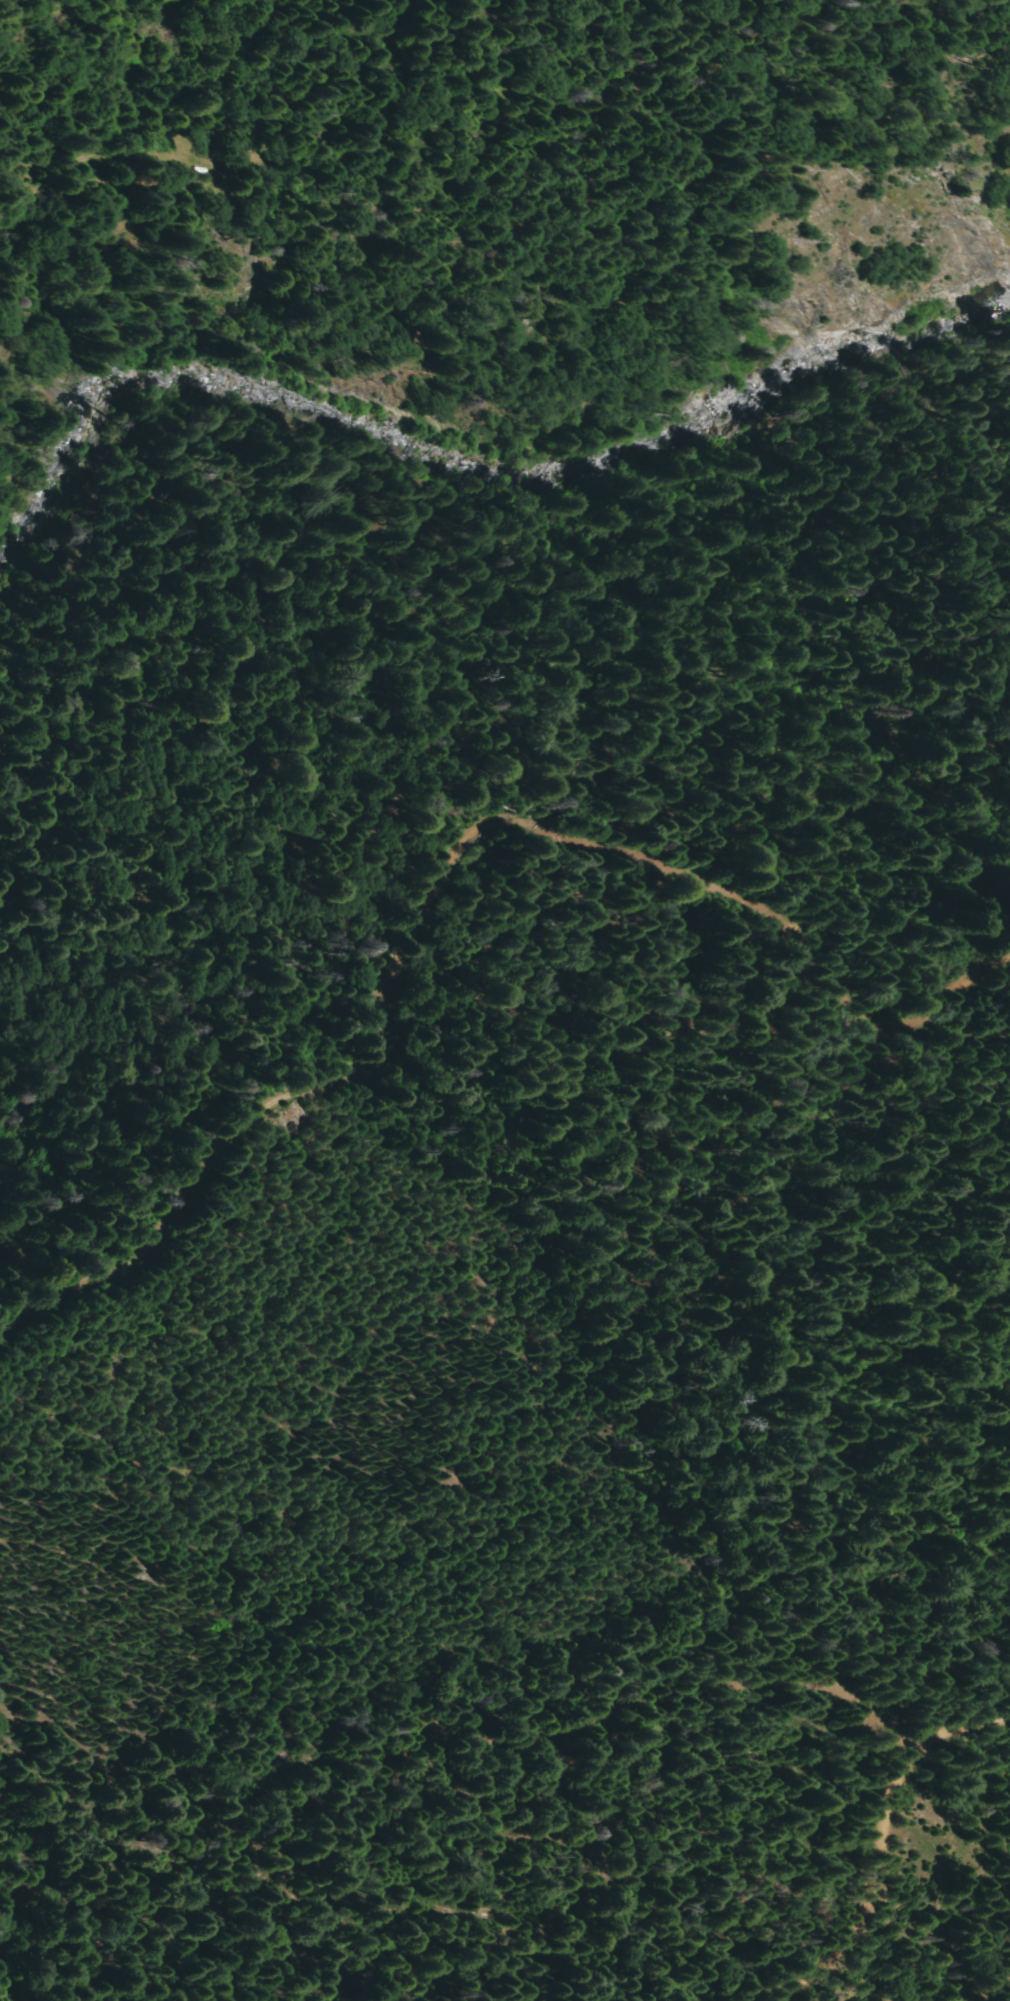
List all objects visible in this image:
river: (471, 461)
road: (883, 1845)

